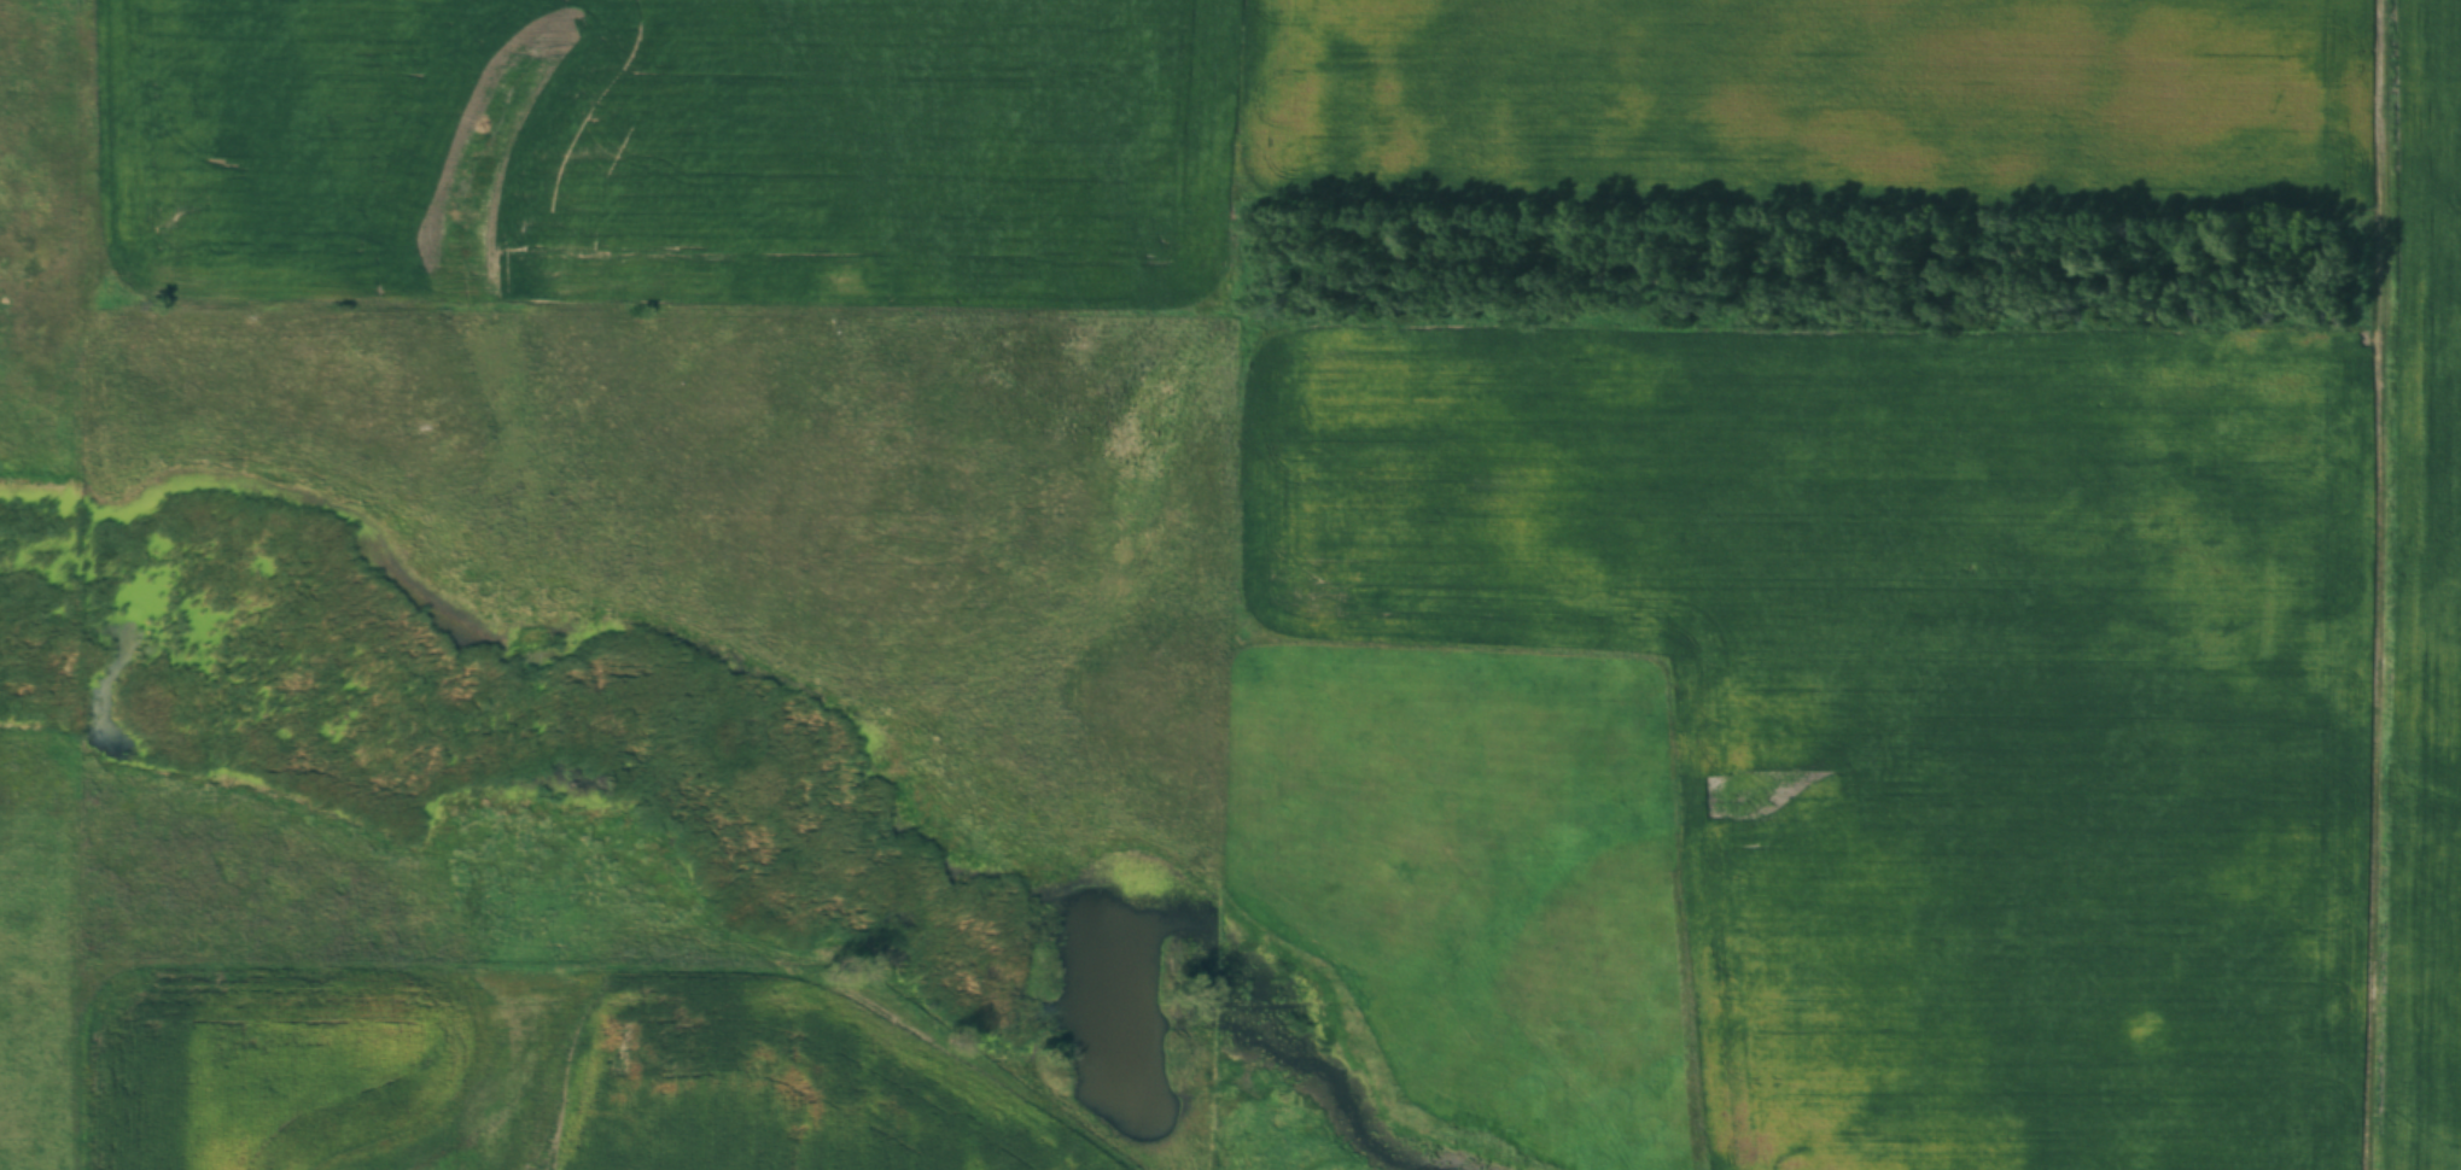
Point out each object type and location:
road: (2384, 585)

